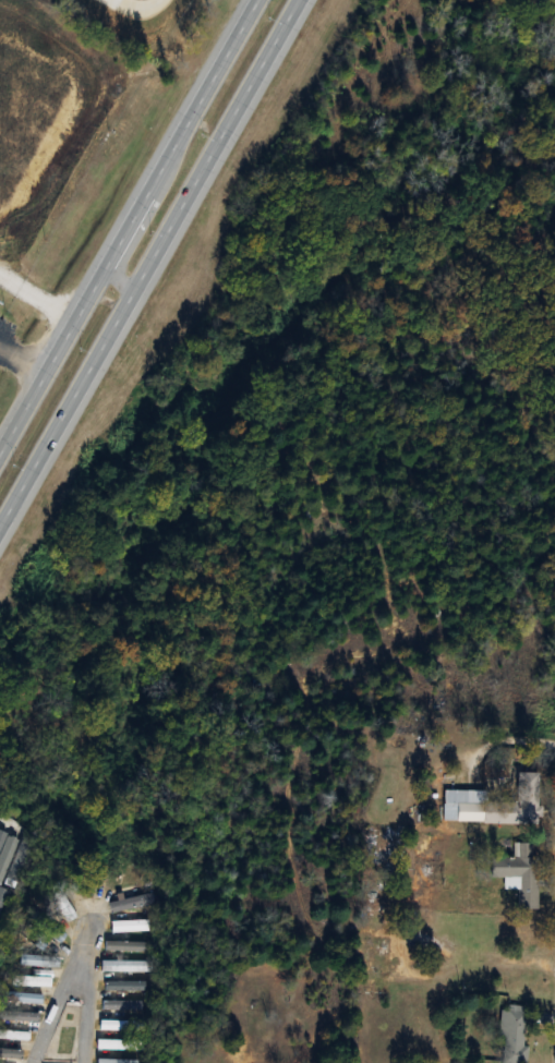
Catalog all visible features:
road: (134, 9)
building: (4, 112)
road: (126, 225)
road: (149, 265)
road: (120, 277)
road: (22, 361)
building: (497, 807)
building: (120, 837)
building: (518, 873)
building: (129, 903)
building: (64, 909)
road: (468, 921)
building: (128, 926)
building: (56, 933)
building: (123, 946)
building: (36, 961)
building: (124, 966)
building: (31, 980)
building: (123, 986)
road: (381, 991)
building: (22, 996)
road: (64, 998)
road: (92, 998)
building: (122, 1005)
building: (19, 1016)
building: (112, 1025)
building: (13, 1035)
building: (511, 1035)
building: (116, 1043)
building: (10, 1053)
building: (117, 1061)

